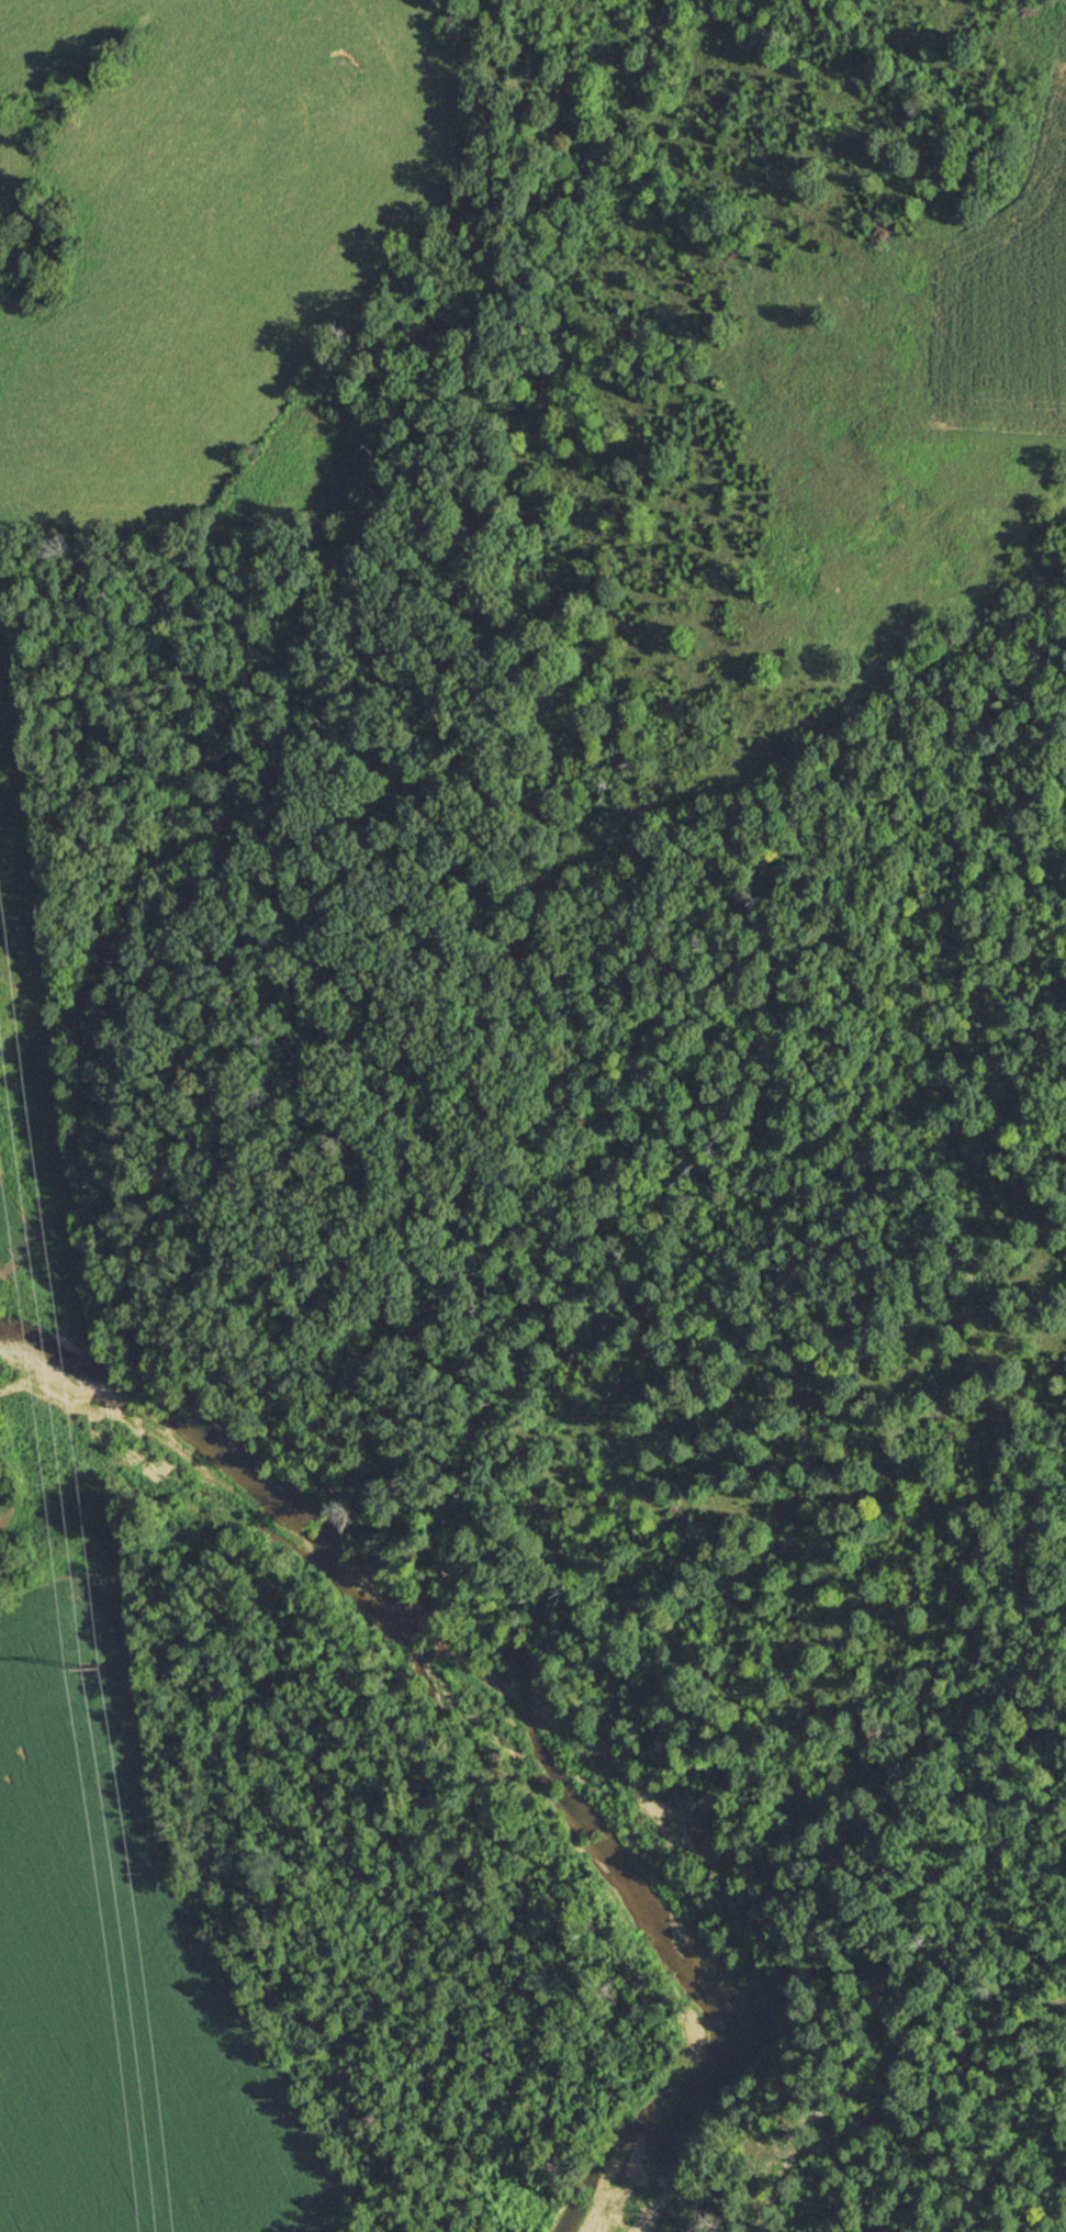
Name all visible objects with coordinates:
power tower: (91, 1672)
river: (504, 1717)

